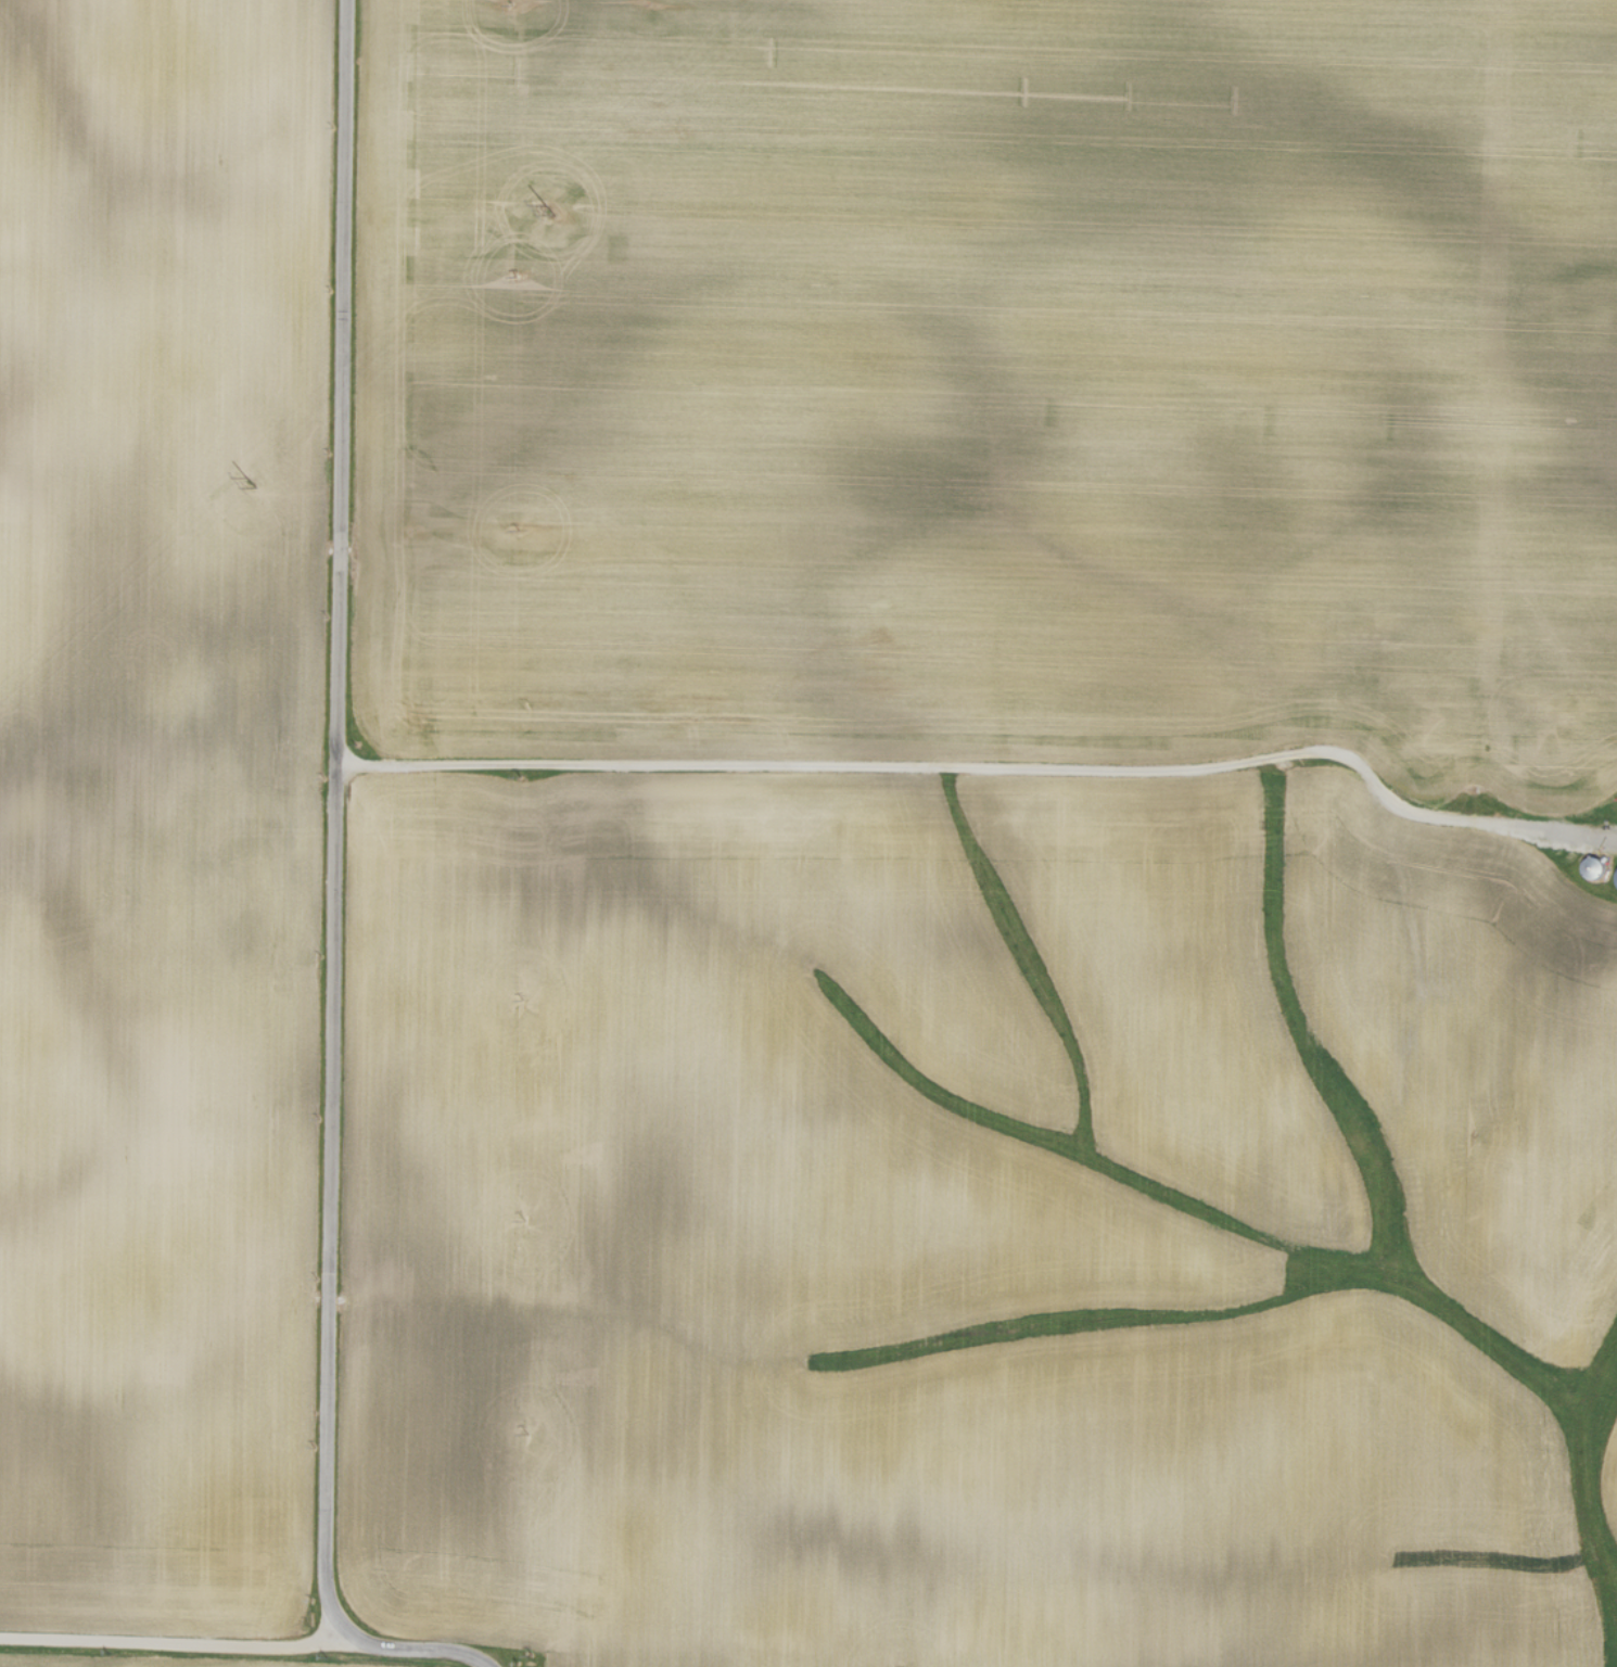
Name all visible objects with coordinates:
power tower: (553, 213)
power tower: (253, 483)
road: (338, 824)
road: (165, 1644)
road: (411, 1649)

